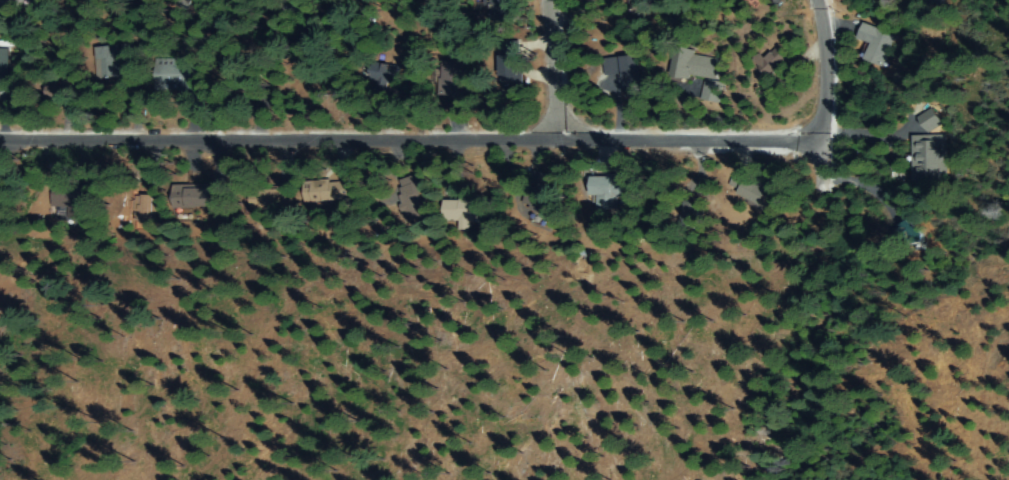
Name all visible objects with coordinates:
building: (753, 0)
building: (440, 1)
building: (931, 3)
building: (186, 4)
building: (644, 5)
building: (499, 10)
building: (8, 44)
building: (877, 46)
building: (114, 60)
building: (698, 65)
building: (773, 65)
building: (238, 68)
building: (511, 68)
road: (558, 71)
building: (629, 72)
building: (383, 77)
building: (5, 78)
building: (180, 78)
building: (452, 80)
road: (828, 91)
building: (714, 92)
building: (63, 93)
building: (929, 120)
road: (412, 143)
building: (930, 159)
building: (2, 175)
building: (615, 190)
building: (331, 192)
building: (546, 192)
building: (754, 194)
building: (199, 197)
building: (413, 199)
building: (273, 201)
building: (74, 205)
building: (146, 211)
building: (469, 213)
building: (693, 214)
building: (913, 234)

